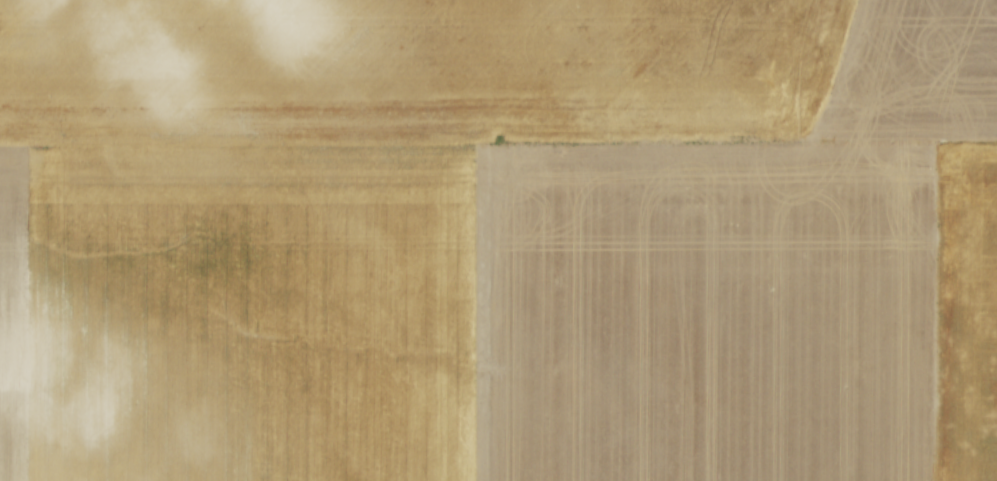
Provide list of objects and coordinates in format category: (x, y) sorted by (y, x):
crop: (498, 240)

